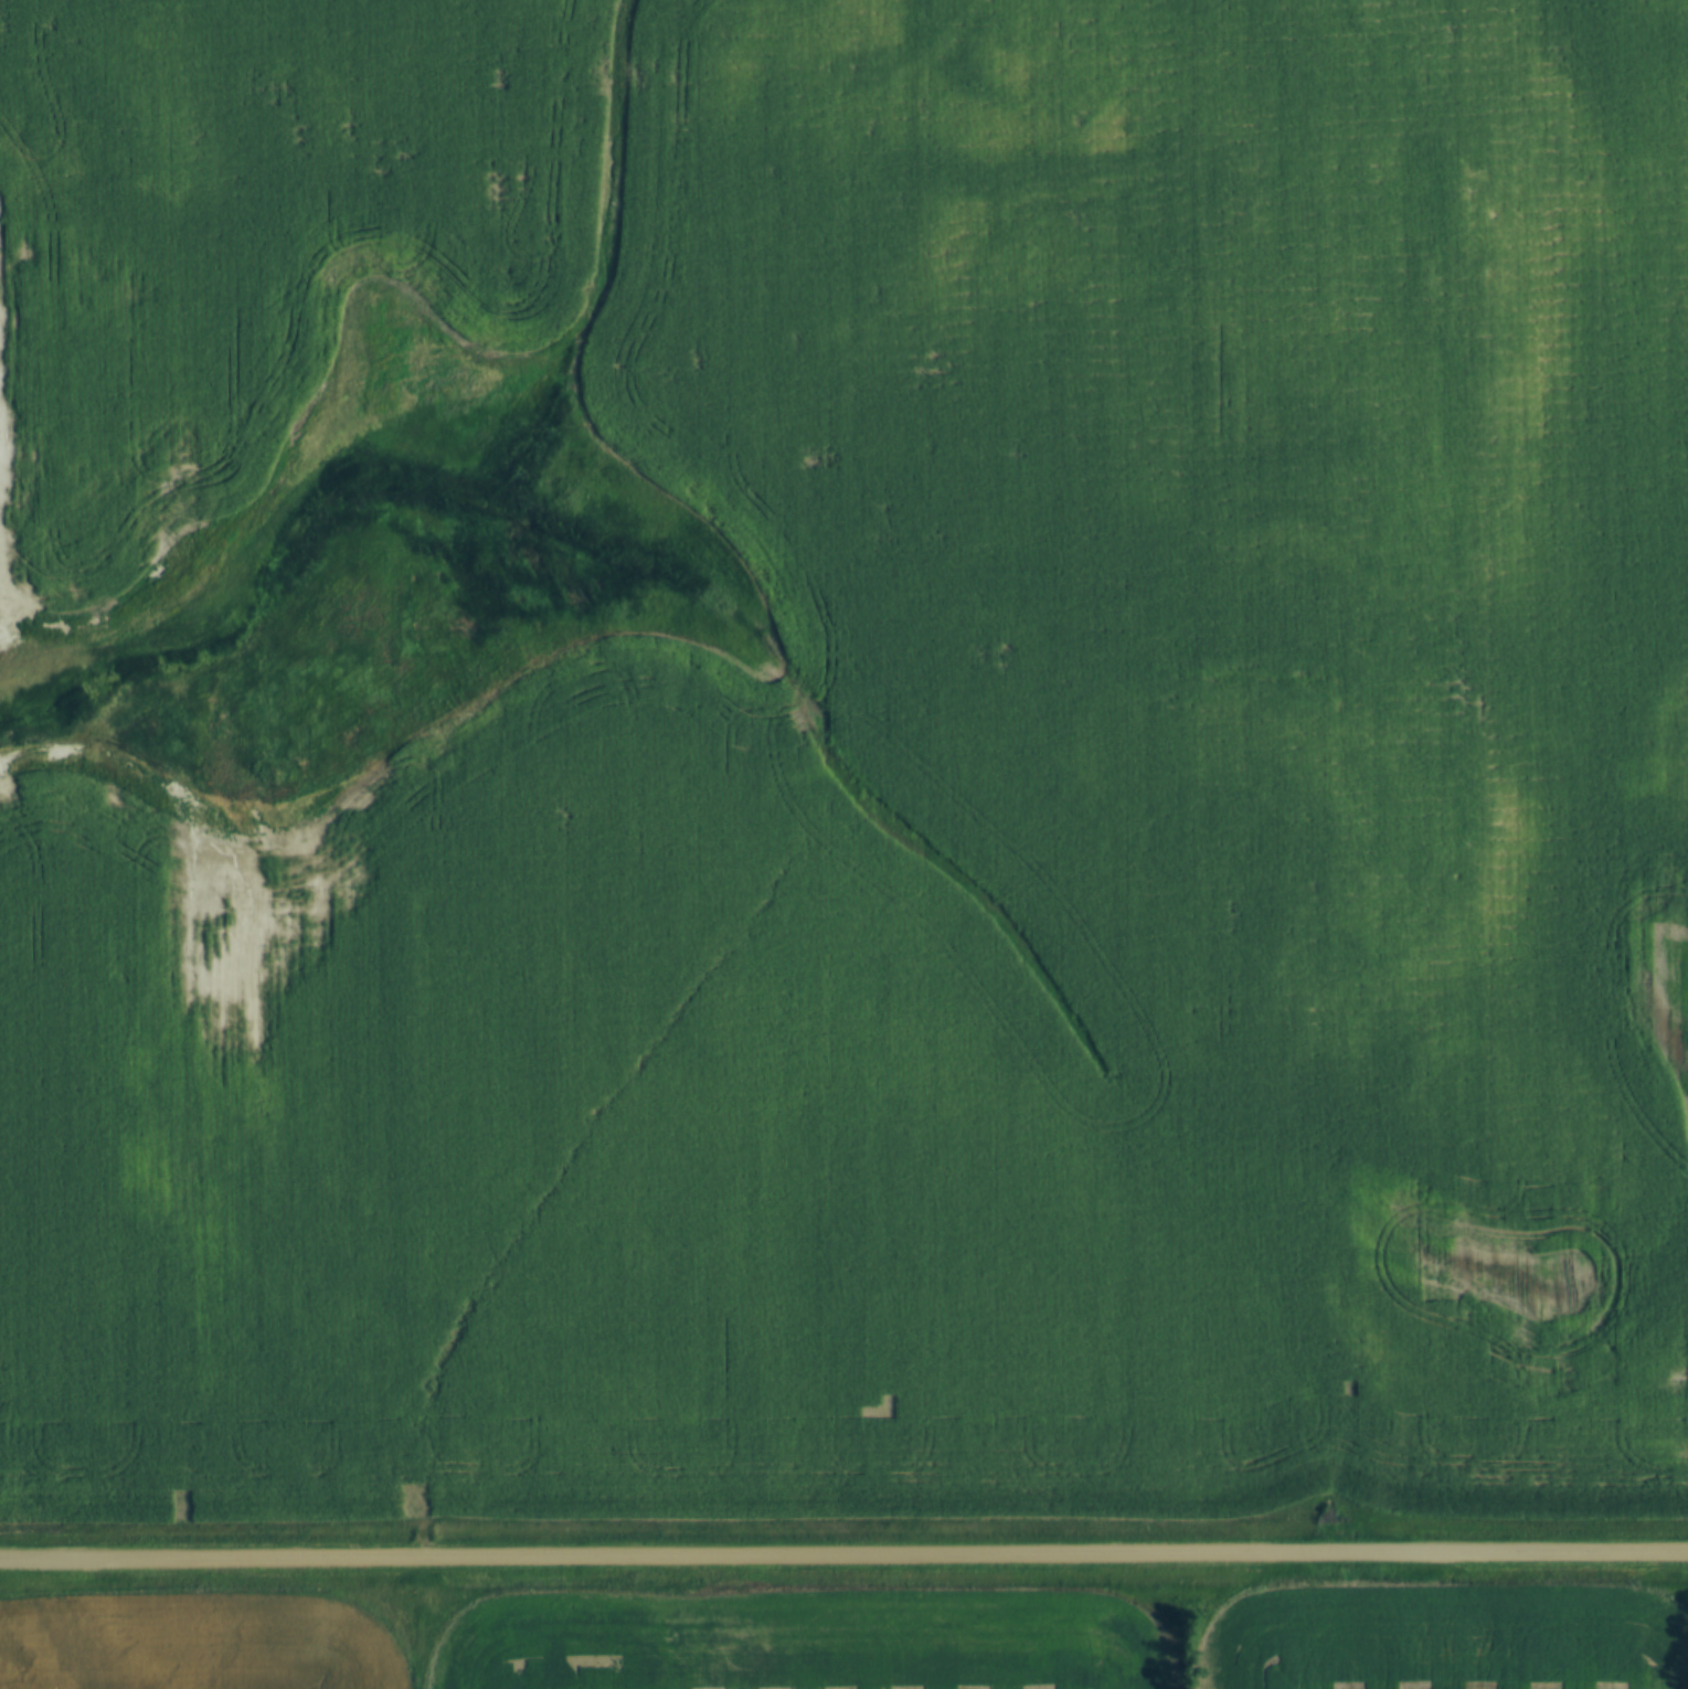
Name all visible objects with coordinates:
road: (843, 1562)

